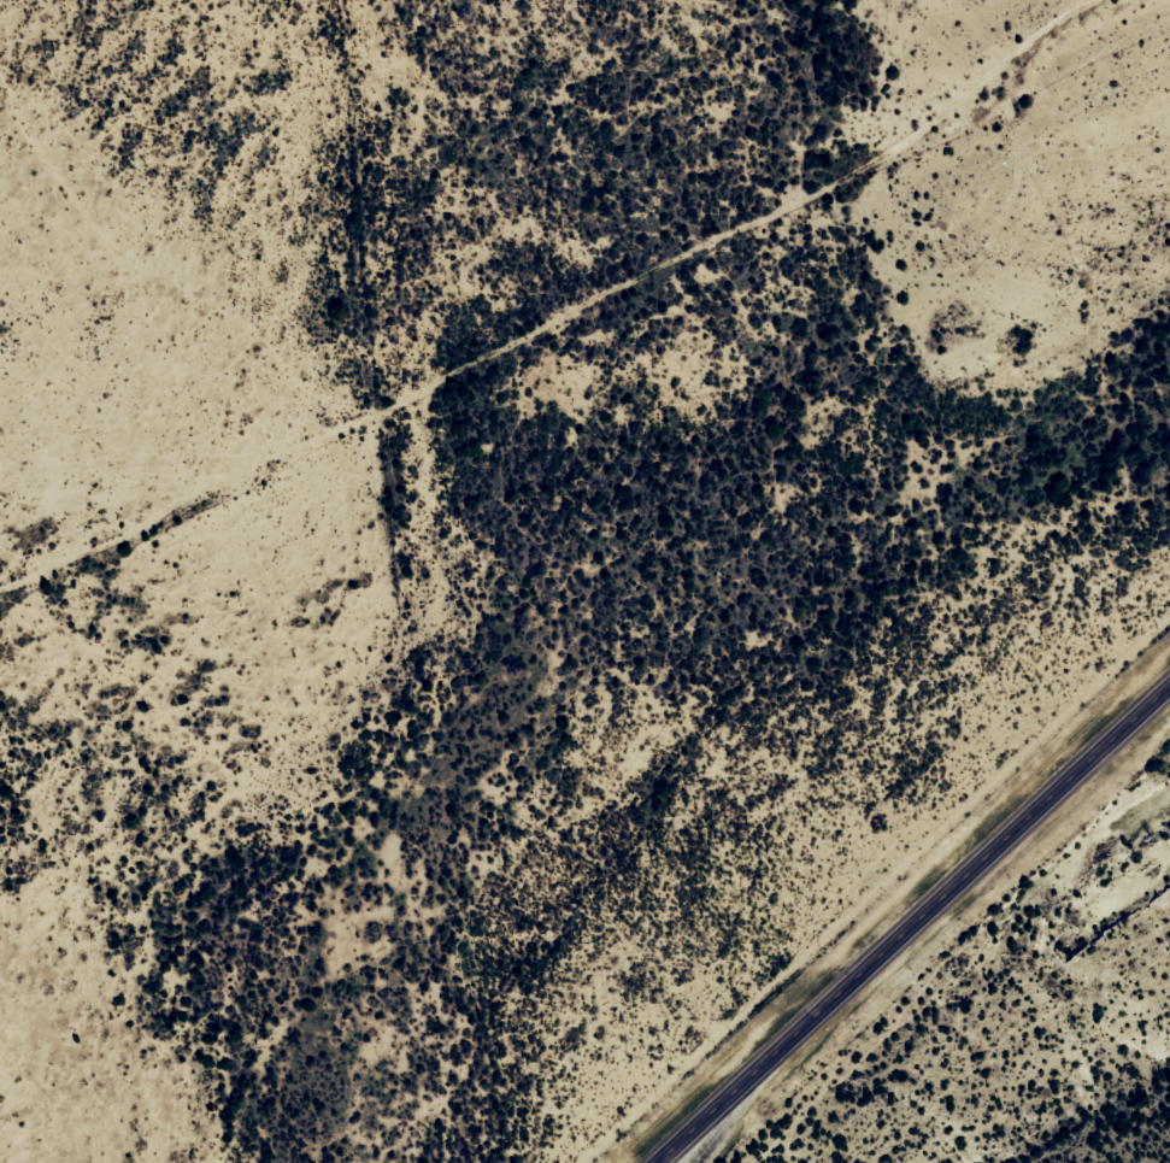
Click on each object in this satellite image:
road: (923, 930)

